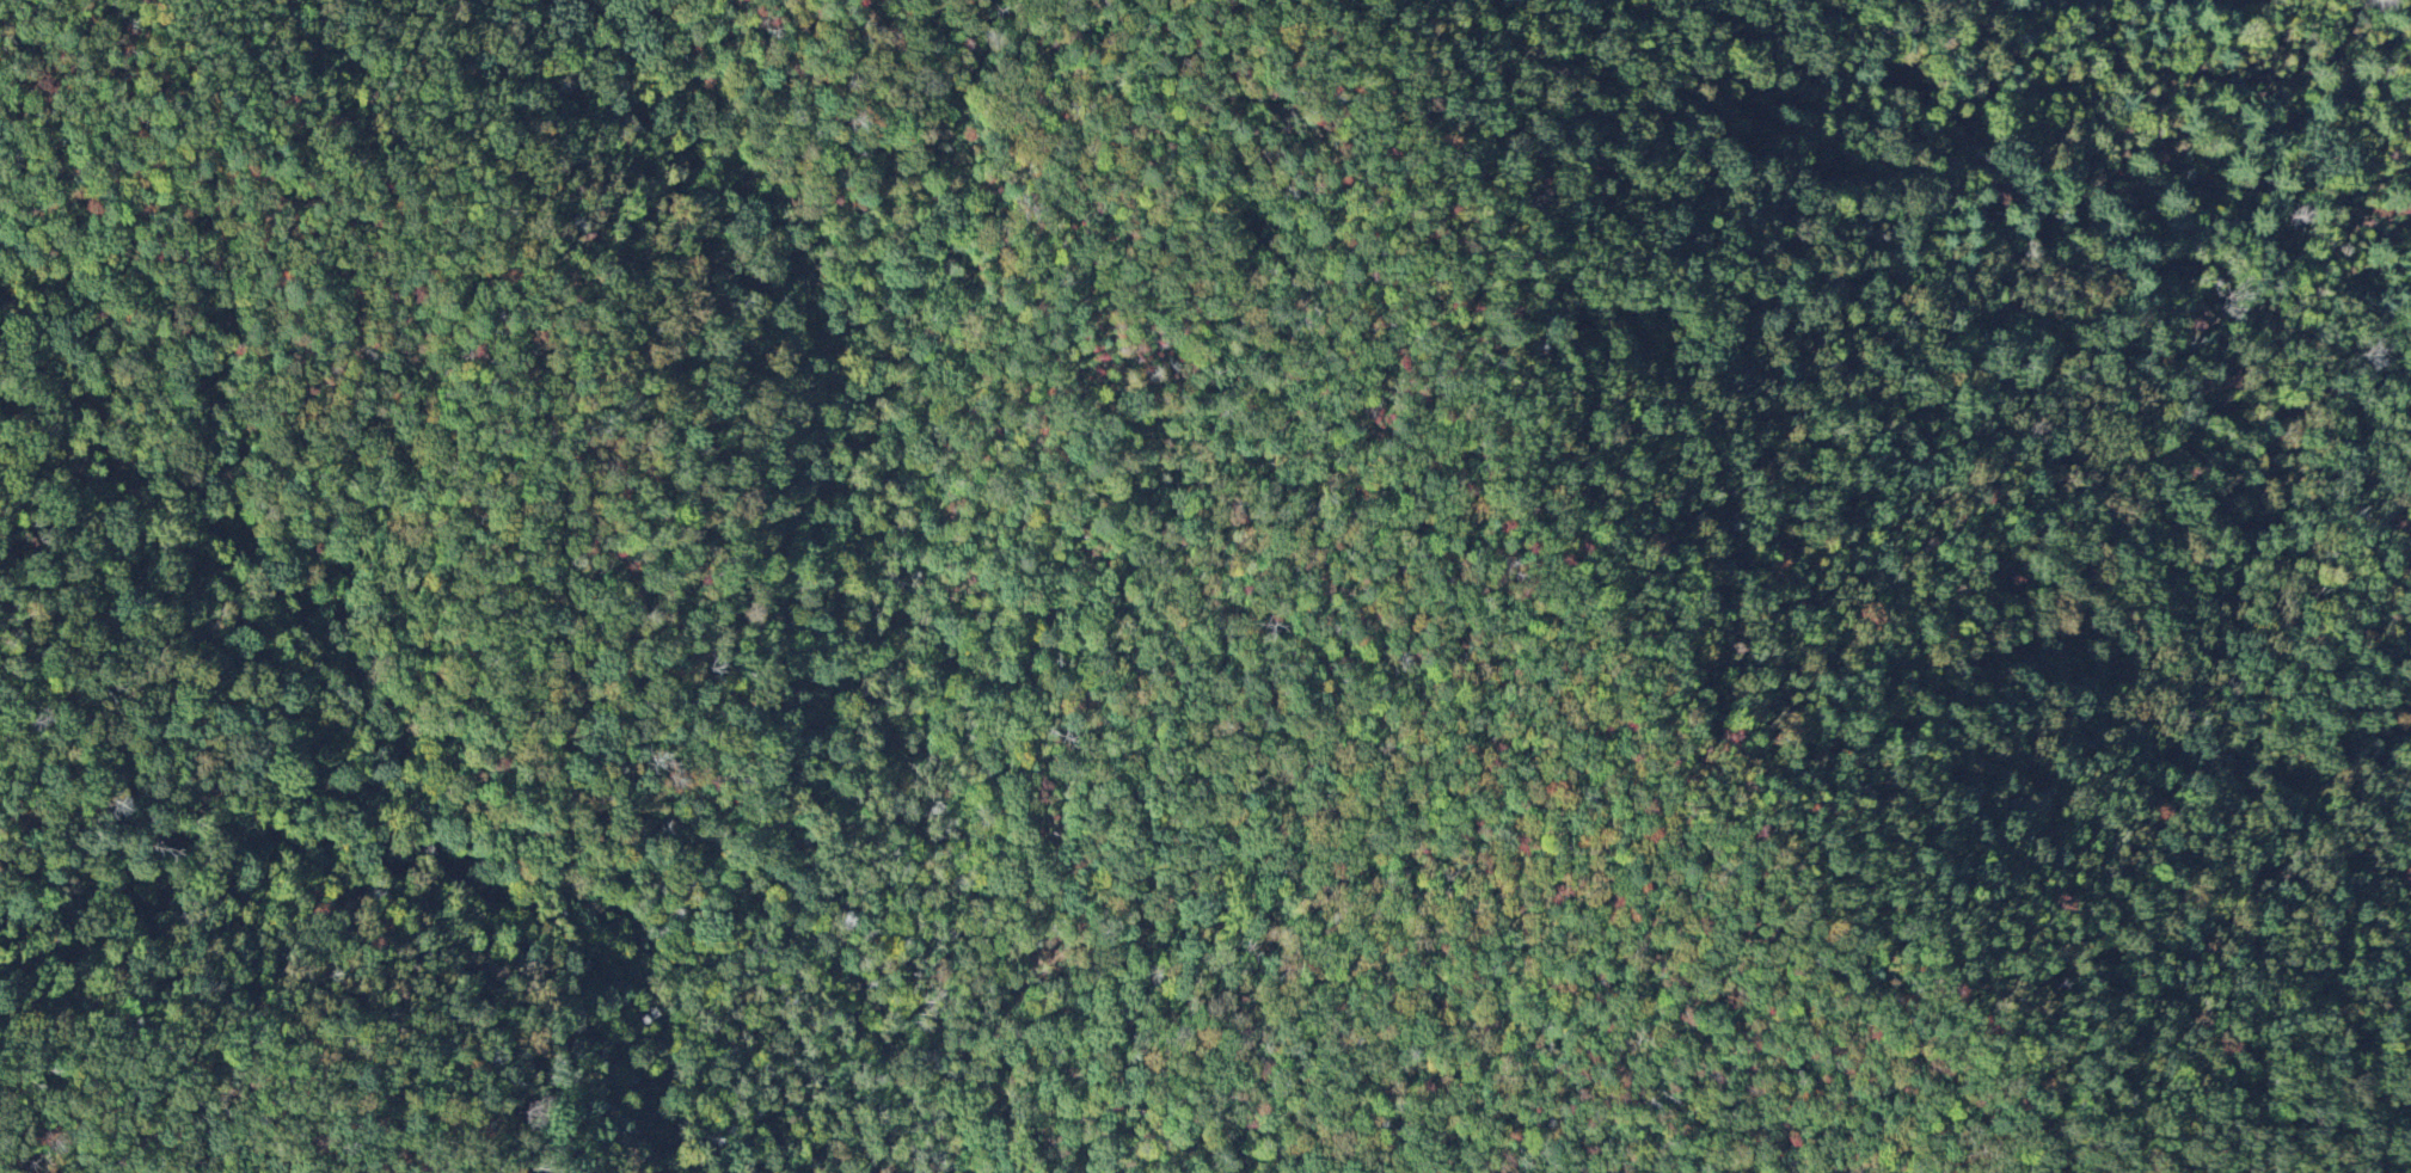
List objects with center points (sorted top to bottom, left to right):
road: (2297, 55)

